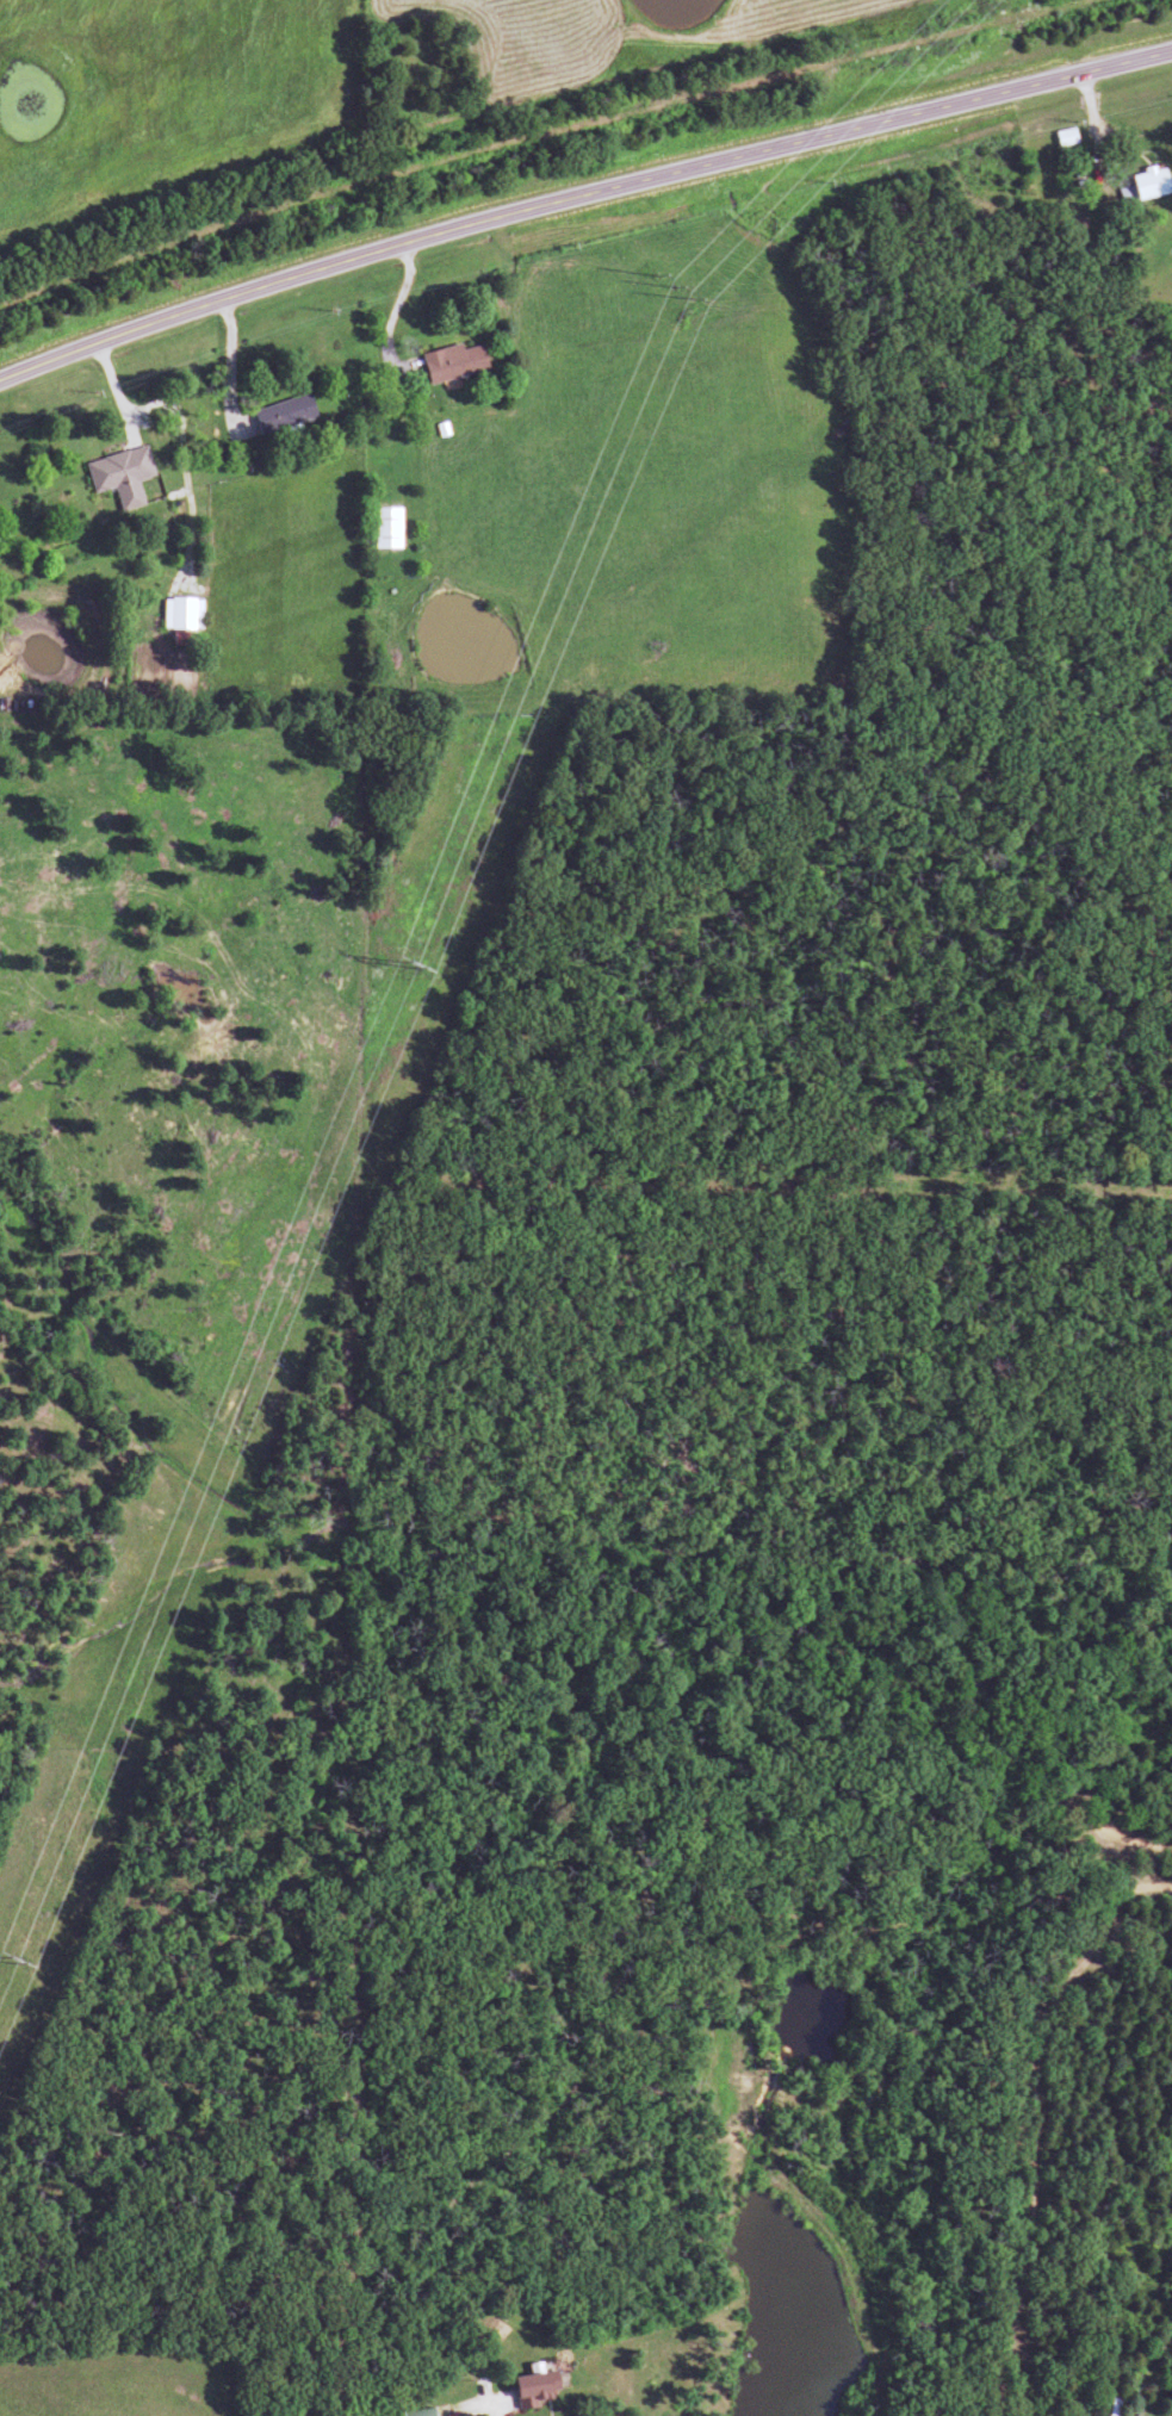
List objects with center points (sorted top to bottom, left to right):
railway: (547, 136)
building: (1062, 137)
building: (1147, 184)
road: (578, 200)
power tower: (670, 284)
building: (451, 362)
building: (281, 415)
building: (118, 476)
building: (384, 528)
building: (179, 613)
power tower: (405, 962)
power tower: (7, 1962)
building: (532, 2390)
road: (483, 2398)
building: (416, 2414)

